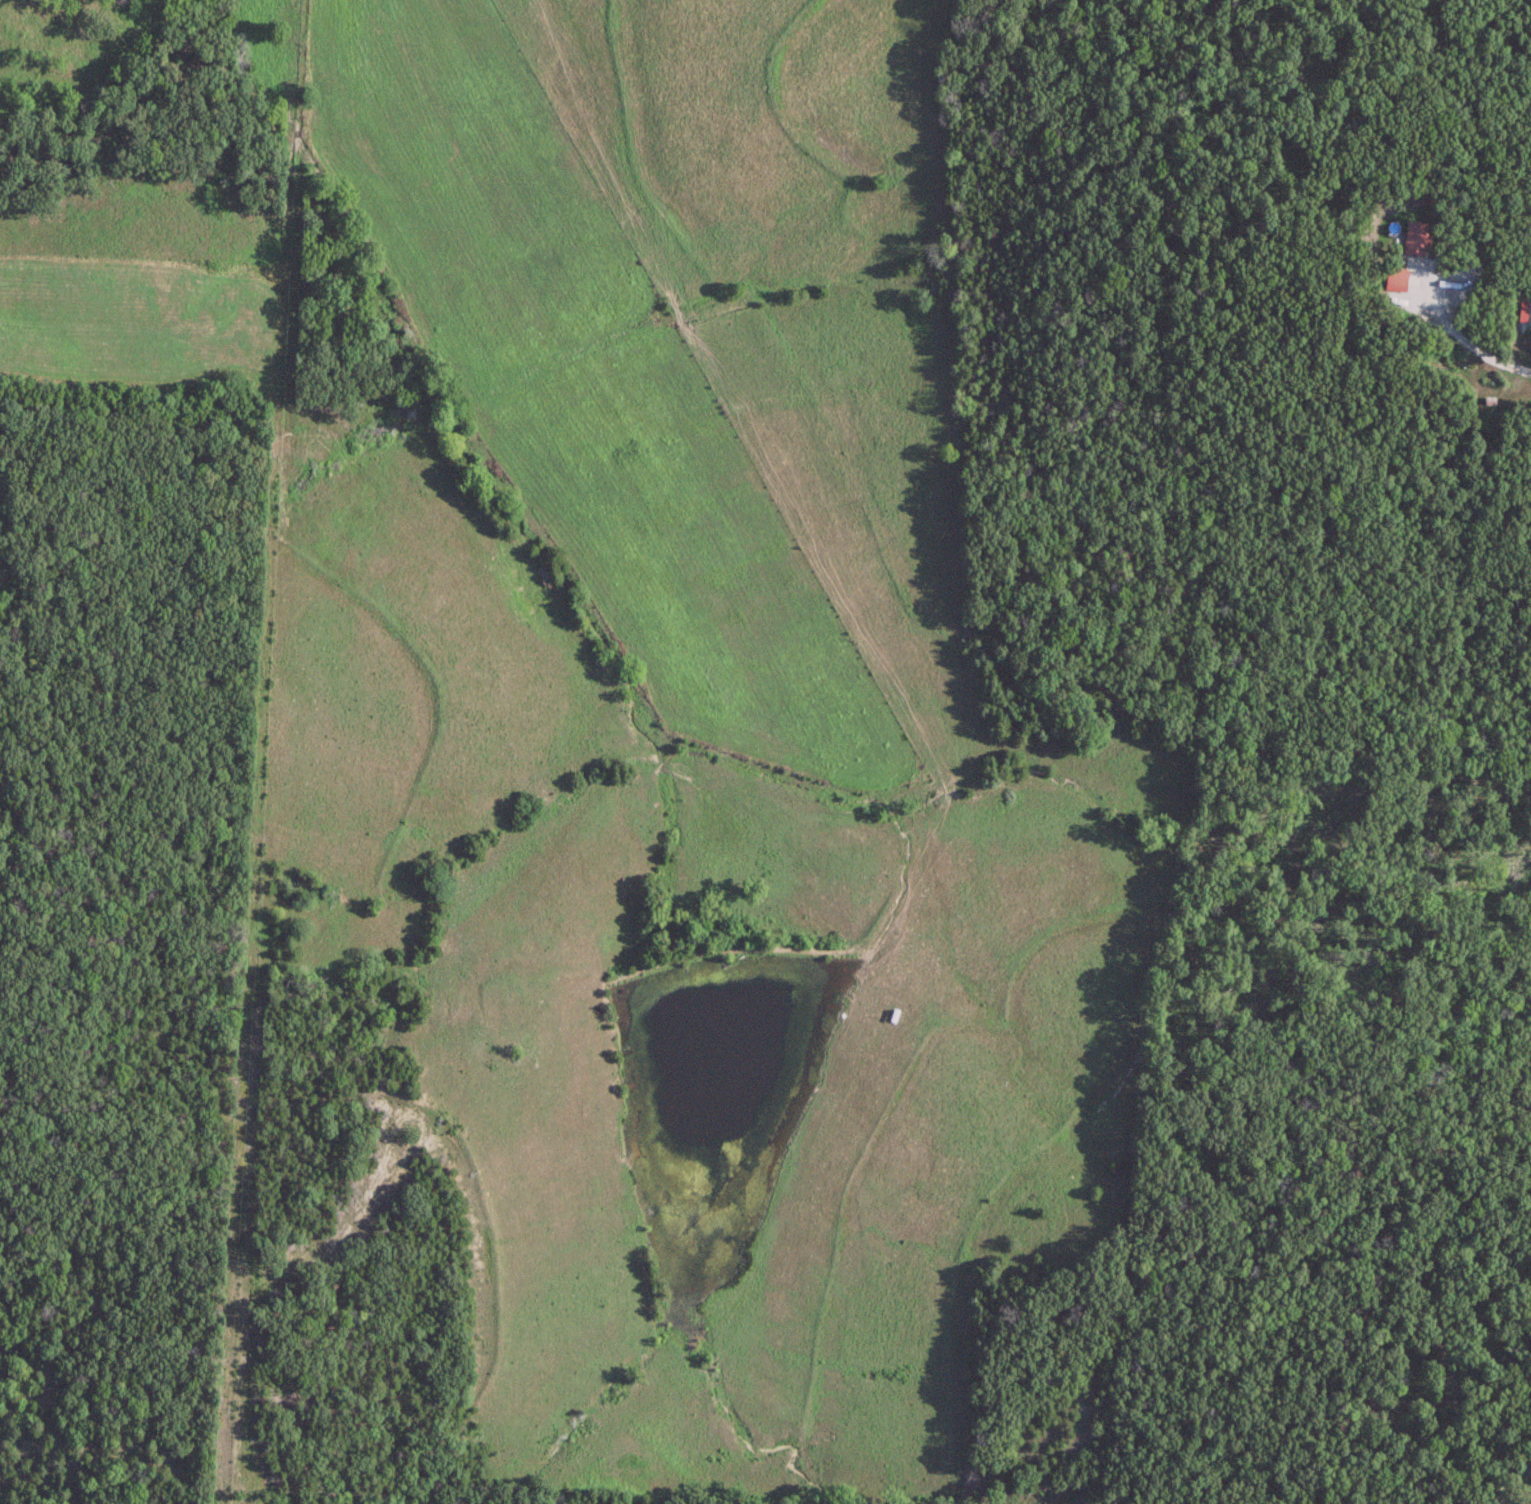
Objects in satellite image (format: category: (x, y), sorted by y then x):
building: (1414, 239)
building: (1392, 278)
building: (1519, 312)

